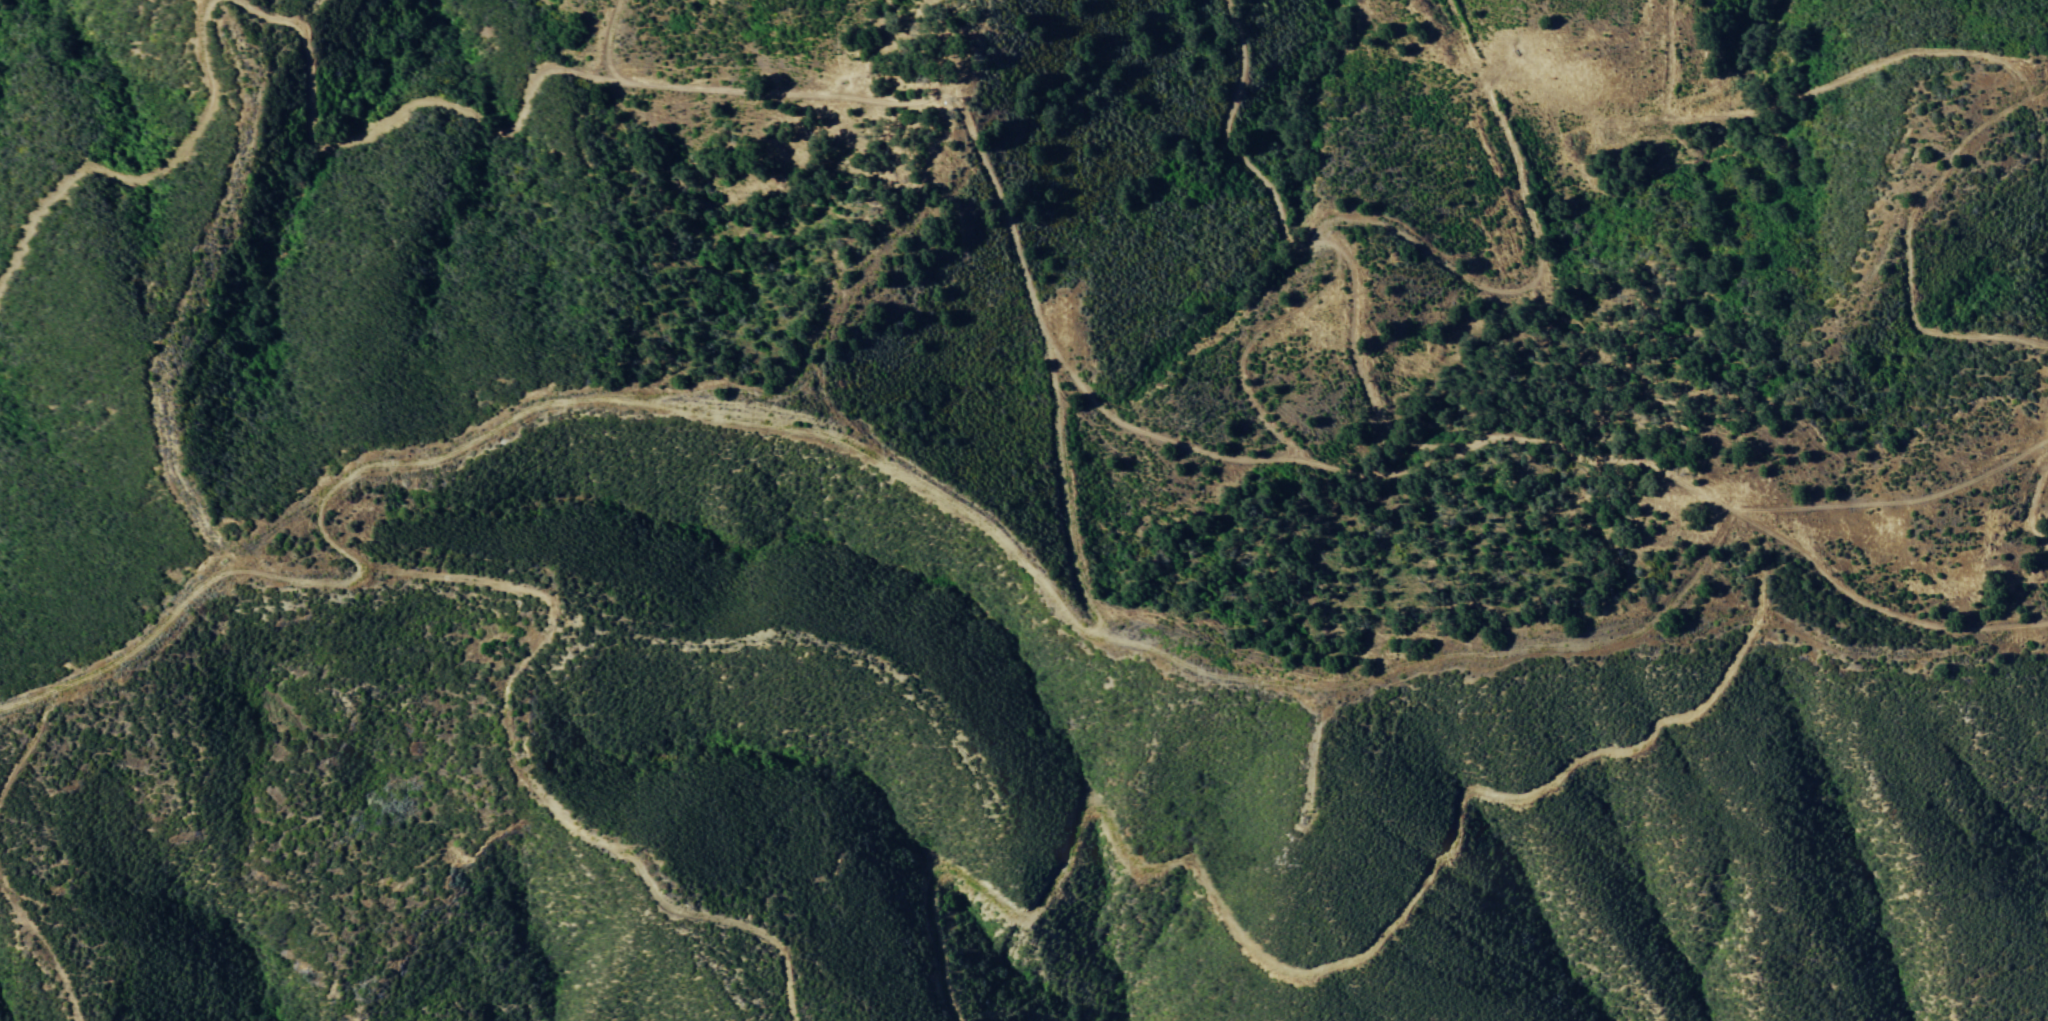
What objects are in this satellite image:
road: (143, 170)
road: (1276, 236)
road: (1015, 256)
road: (990, 547)
road: (1281, 945)

